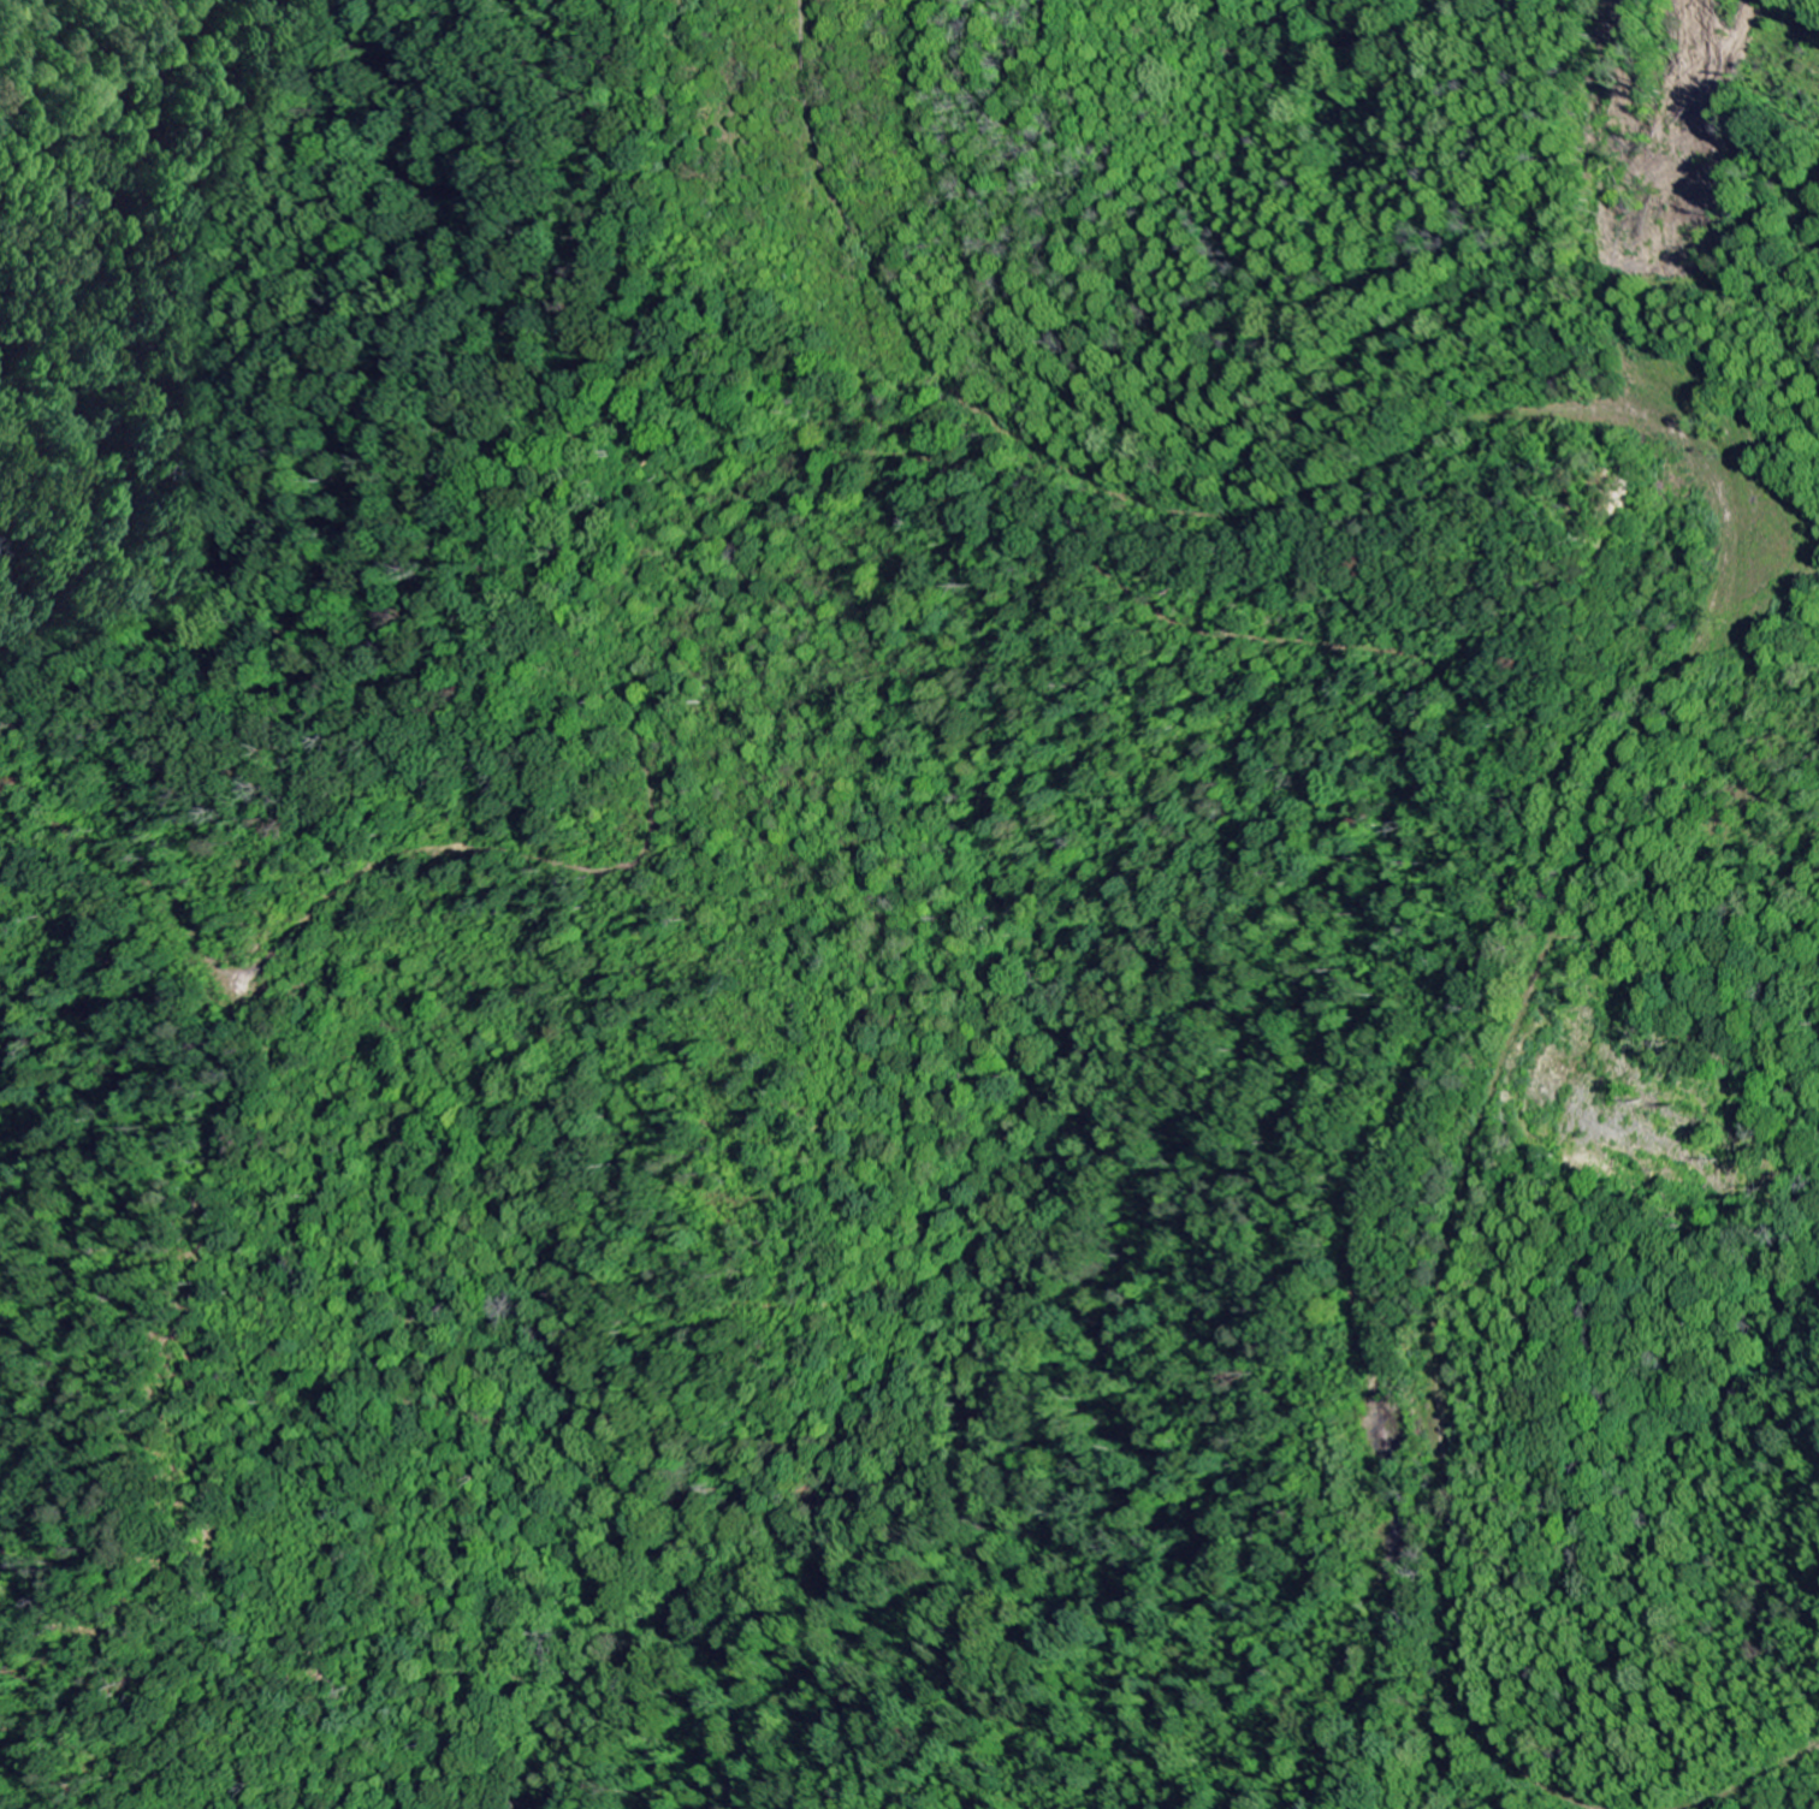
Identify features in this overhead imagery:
road: (1316, 1166)

